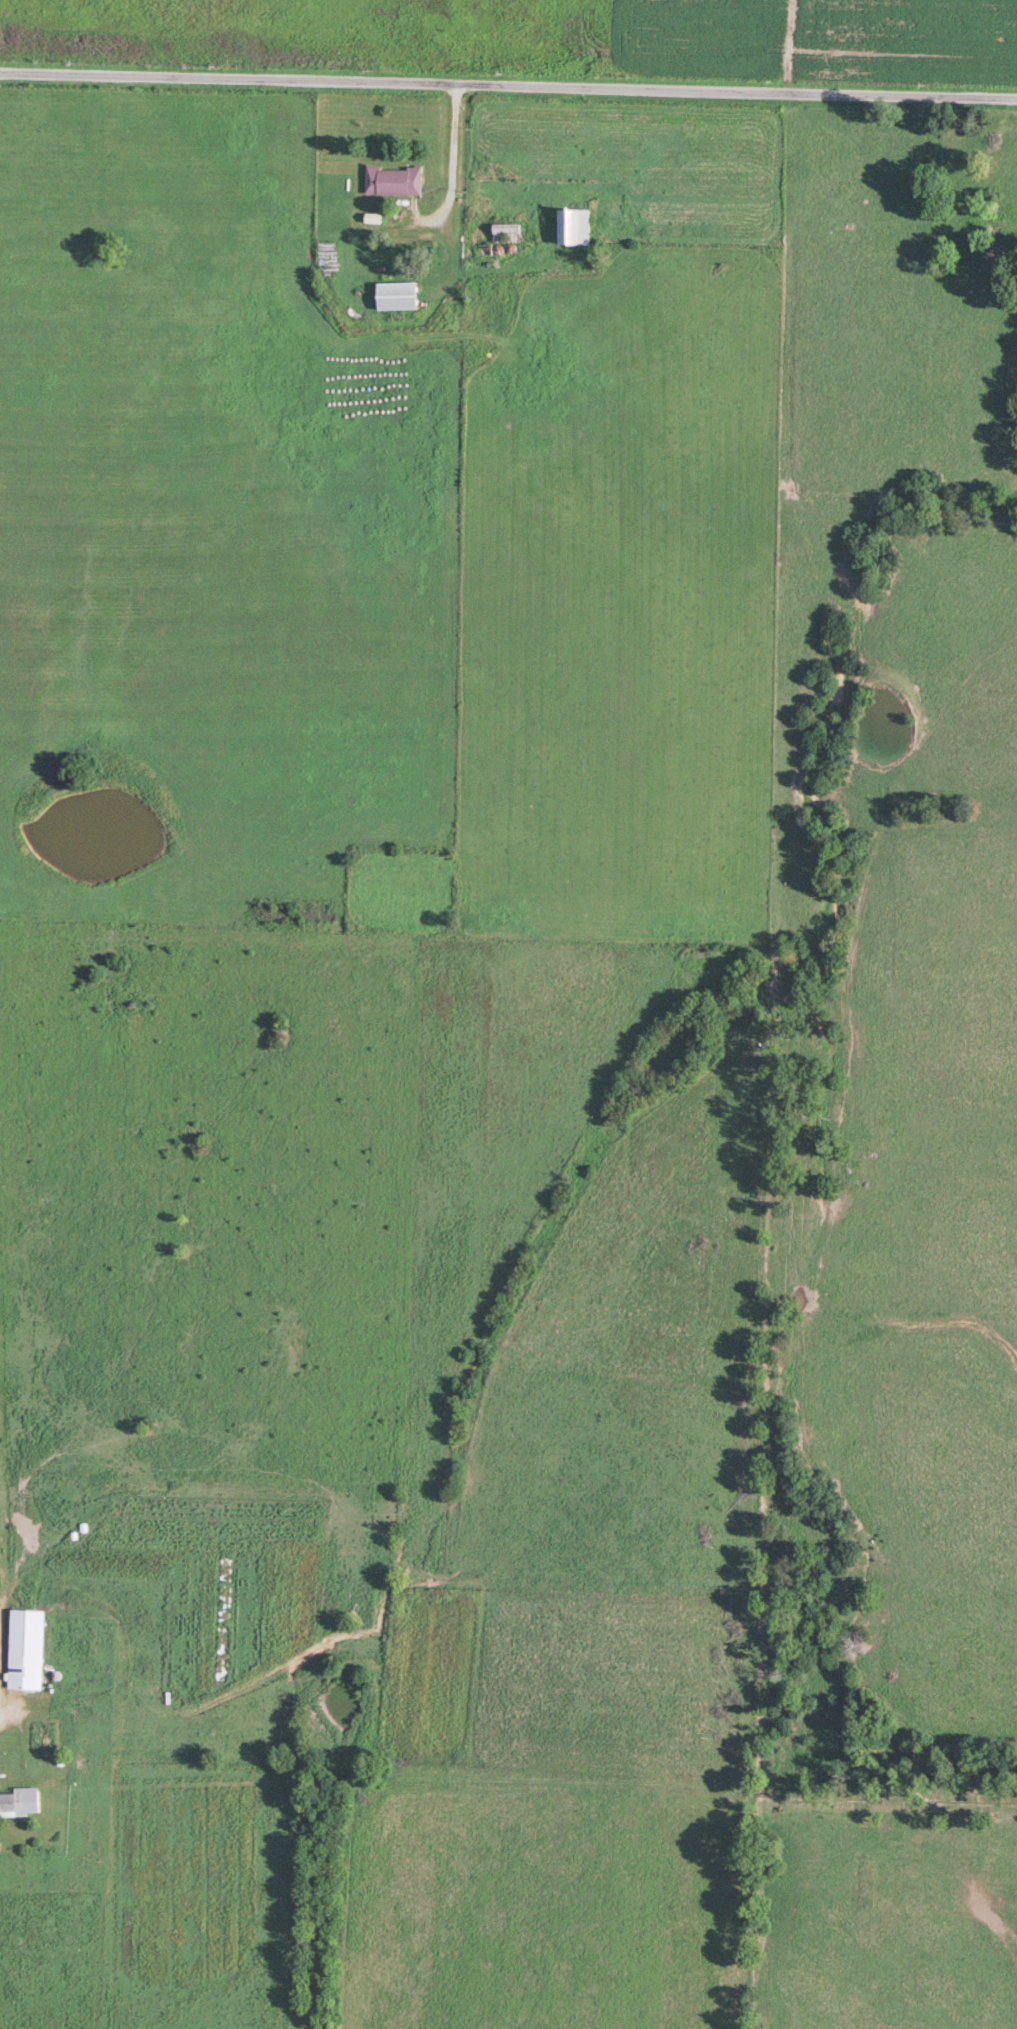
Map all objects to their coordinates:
road: (508, 86)
road: (454, 161)
building: (394, 179)
building: (574, 224)
building: (507, 228)
building: (397, 294)
building: (25, 1649)
road: (1, 1707)
building: (20, 1800)

